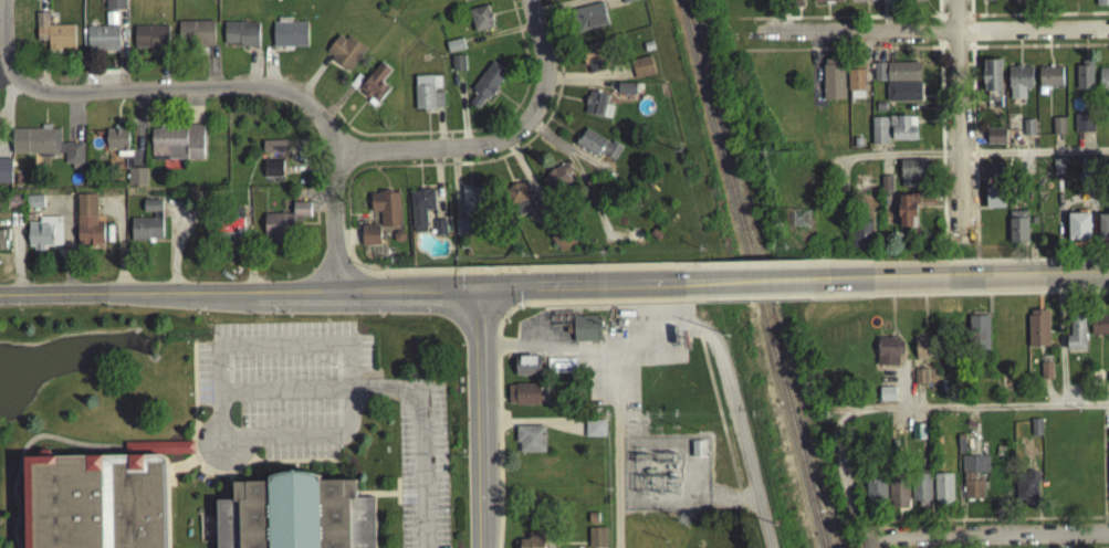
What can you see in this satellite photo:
road: (470, 1)
building: (628, 2)
building: (862, 2)
building: (917, 2)
building: (986, 2)
building: (827, 3)
building: (1018, 3)
building: (794, 4)
building: (1101, 4)
road: (40, 6)
building: (114, 8)
road: (569, 9)
road: (937, 13)
road: (970, 13)
road: (1, 19)
road: (953, 20)
road: (1035, 20)
building: (588, 22)
building: (479, 23)
road: (839, 23)
road: (2, 33)
road: (931, 36)
road: (938, 36)
road: (970, 36)
building: (53, 38)
building: (195, 38)
building: (241, 39)
building: (289, 39)
road: (498, 39)
building: (149, 42)
building: (101, 43)
building: (453, 50)
road: (555, 50)
road: (942, 51)
road: (1036, 51)
road: (954, 52)
road: (839, 54)
road: (122, 55)
building: (344, 56)
road: (523, 56)
building: (597, 61)
building: (457, 67)
road: (212, 72)
road: (253, 72)
building: (639, 72)
road: (164, 74)
road: (269, 74)
building: (896, 76)
road: (3, 80)
road: (44, 80)
road: (607, 80)
building: (1082, 81)
road: (313, 82)
building: (855, 82)
building: (1049, 82)
road: (579, 83)
building: (831, 84)
building: (1103, 84)
road: (542, 85)
building: (1018, 85)
building: (375, 87)
building: (992, 88)
building: (485, 91)
road: (180, 93)
road: (305, 93)
building: (625, 93)
building: (427, 97)
road: (544, 97)
building: (902, 97)
road: (121, 101)
road: (553, 101)
road: (365, 102)
road: (341, 104)
road: (505, 105)
road: (573, 105)
road: (193, 110)
building: (596, 110)
road: (358, 113)
road: (461, 114)
road: (519, 114)
road: (525, 118)
road: (116, 119)
road: (74, 123)
road: (44, 124)
road: (958, 124)
road: (127, 126)
building: (1082, 128)
building: (1057, 130)
road: (137, 133)
building: (902, 133)
building: (1027, 133)
road: (438, 134)
road: (566, 134)
building: (878, 136)
road: (419, 138)
building: (995, 141)
building: (116, 144)
building: (175, 147)
road: (941, 147)
road: (972, 147)
building: (44, 149)
building: (596, 149)
building: (274, 151)
road: (580, 156)
road: (411, 157)
road: (961, 158)
road: (584, 164)
road: (537, 167)
road: (440, 170)
road: (308, 171)
building: (4, 173)
building: (272, 173)
building: (911, 177)
building: (136, 180)
road: (508, 180)
building: (554, 182)
road: (579, 183)
road: (519, 185)
road: (456, 189)
road: (531, 189)
road: (437, 190)
road: (318, 201)
building: (517, 202)
building: (993, 202)
building: (13, 208)
building: (34, 208)
building: (471, 208)
building: (385, 213)
building: (420, 213)
building: (910, 213)
power tower: (799, 223)
building: (86, 225)
building: (147, 226)
building: (284, 228)
road: (334, 229)
building: (1102, 231)
building: (1017, 232)
building: (438, 233)
building: (460, 233)
building: (224, 234)
building: (1077, 234)
building: (43, 238)
building: (861, 239)
building: (369, 241)
road: (67, 242)
road: (346, 242)
building: (3, 243)
road: (346, 243)
building: (562, 243)
road: (119, 244)
road: (175, 247)
road: (248, 254)
road: (15, 257)
road: (1043, 265)
road: (923, 267)
road: (357, 272)
road: (700, 272)
railway: (754, 274)
road: (456, 276)
road: (520, 276)
road: (990, 280)
road: (700, 286)
road: (503, 289)
road: (459, 291)
traffic signals: (479, 291)
road: (345, 293)
road: (520, 293)
road: (125, 297)
road: (990, 298)
road: (700, 305)
road: (521, 308)
road: (524, 309)
road: (529, 309)
road: (988, 312)
road: (503, 320)
parking lot: (535, 326)
road: (890, 327)
building: (1099, 329)
road: (923, 331)
building: (586, 334)
building: (1037, 334)
building: (976, 335)
road: (699, 337)
building: (1076, 338)
road: (699, 340)
road: (494, 341)
road: (890, 341)
road: (563, 344)
road: (283, 349)
road: (496, 350)
building: (922, 354)
road: (527, 356)
building: (887, 356)
road: (498, 361)
building: (526, 370)
building: (1045, 376)
road: (903, 381)
building: (920, 382)
road: (404, 387)
parking lot: (279, 396)
building: (524, 399)
building: (886, 399)
road: (919, 401)
road: (480, 405)
road: (910, 413)
road: (719, 420)
road: (193, 428)
road: (532, 428)
building: (594, 433)
building: (918, 436)
building: (530, 443)
road: (278, 445)
road: (220, 447)
road: (25, 450)
road: (615, 450)
building: (158, 453)
road: (160, 453)
building: (697, 453)
road: (499, 455)
road: (191, 459)
parking lot: (421, 465)
road: (182, 471)
building: (1108, 473)
power substation: (667, 478)
building: (973, 482)
road: (11, 492)
building: (1026, 493)
building: (943, 494)
building: (876, 495)
building: (898, 495)
building: (921, 495)
road: (737, 496)
road: (739, 496)
road: (398, 497)
building: (94, 504)
road: (732, 505)
road: (741, 506)
power tower: (689, 517)
road: (743, 517)
building: (291, 518)
building: (592, 523)
road: (747, 531)
road: (479, 535)
building: (535, 538)
road: (984, 538)
building: (595, 540)

